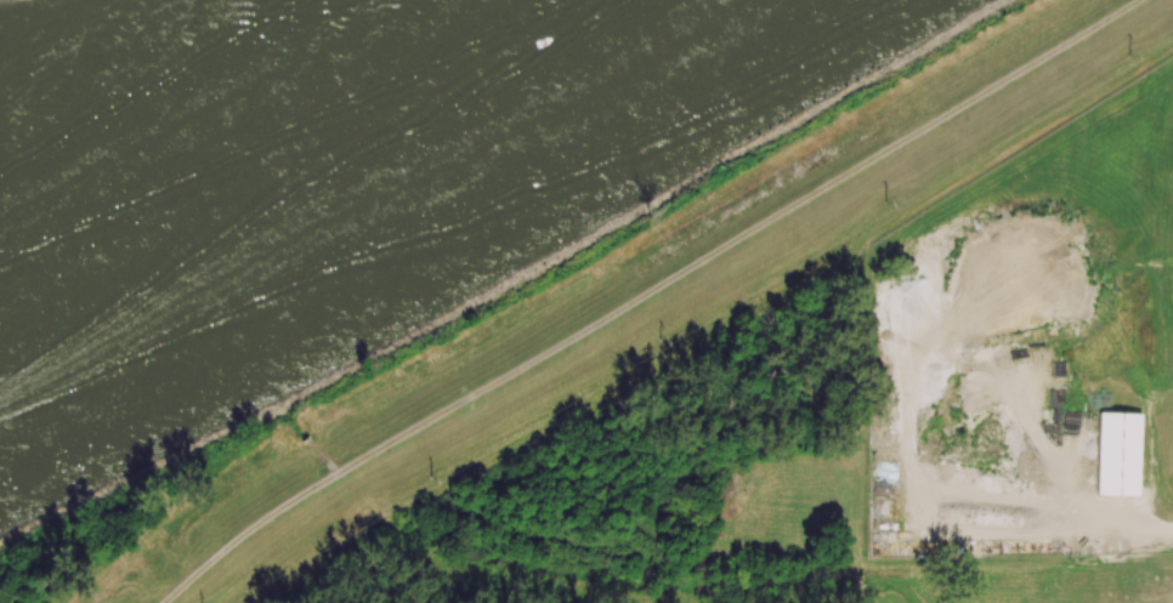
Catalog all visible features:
river: (282, 149)
building: (1117, 454)
road: (319, 484)

